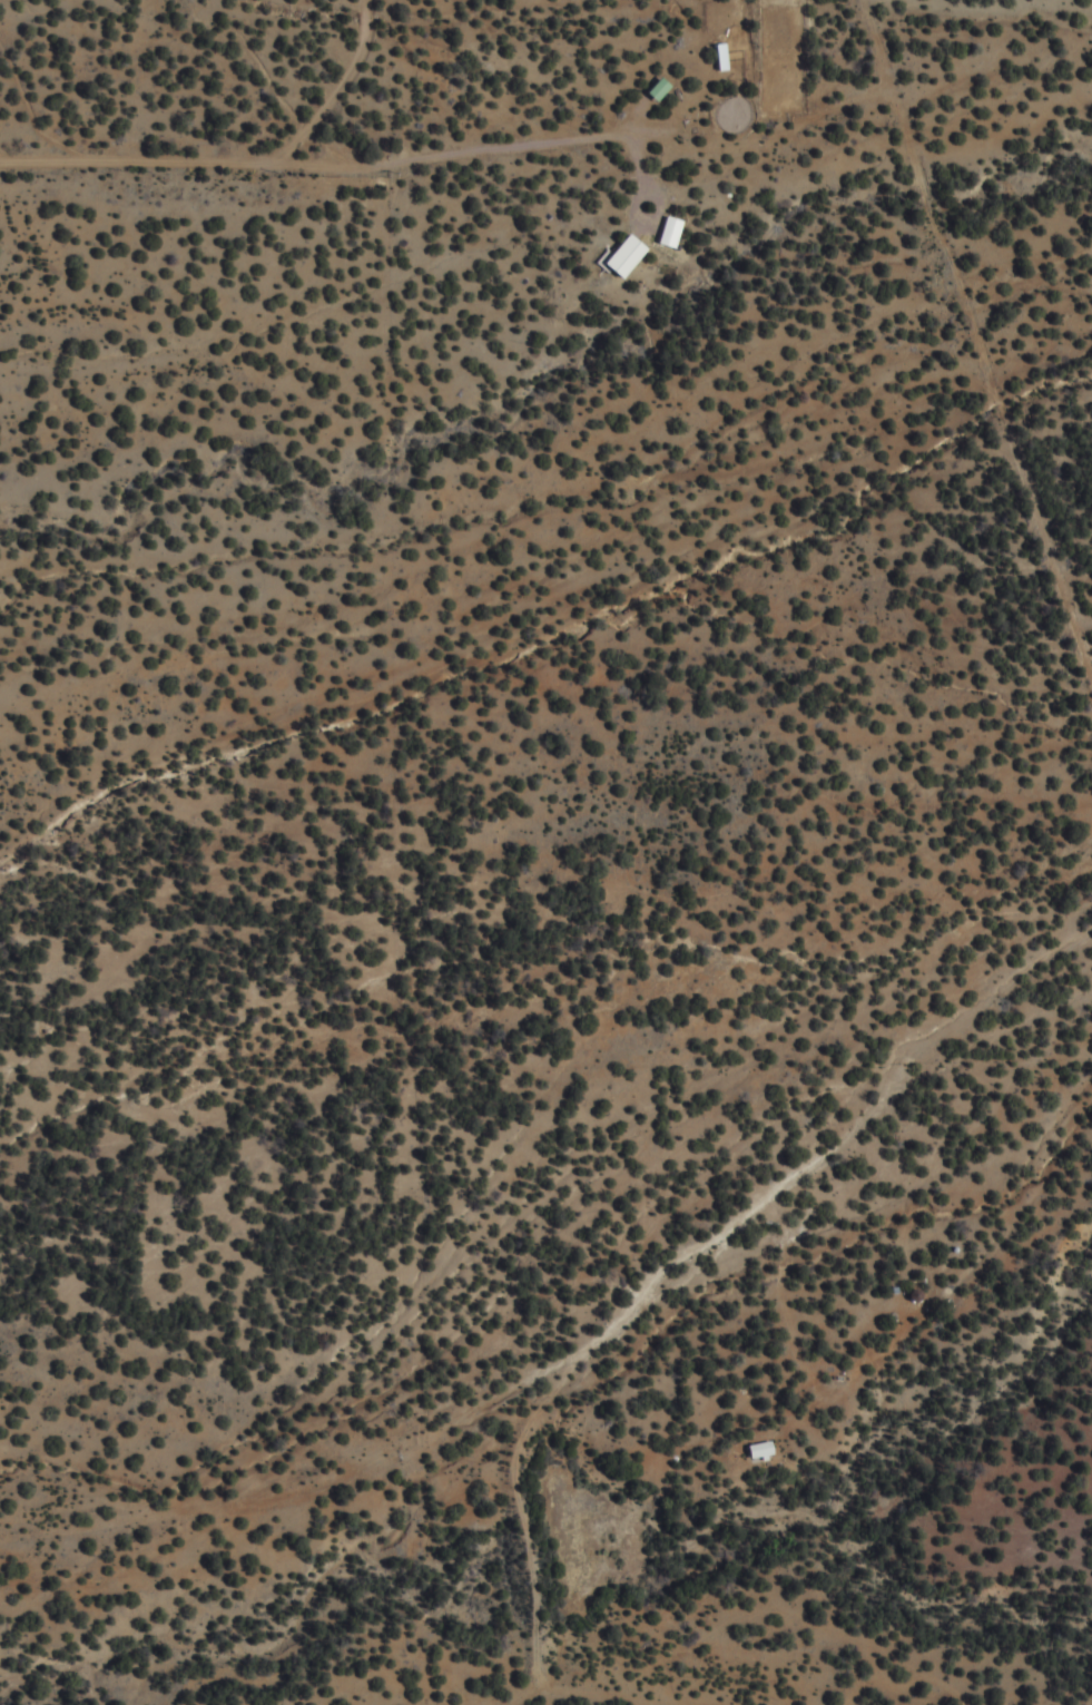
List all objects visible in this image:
building: (665, 89)
building: (631, 256)
building: (767, 1450)
road: (361, 1470)
road: (135, 1685)

